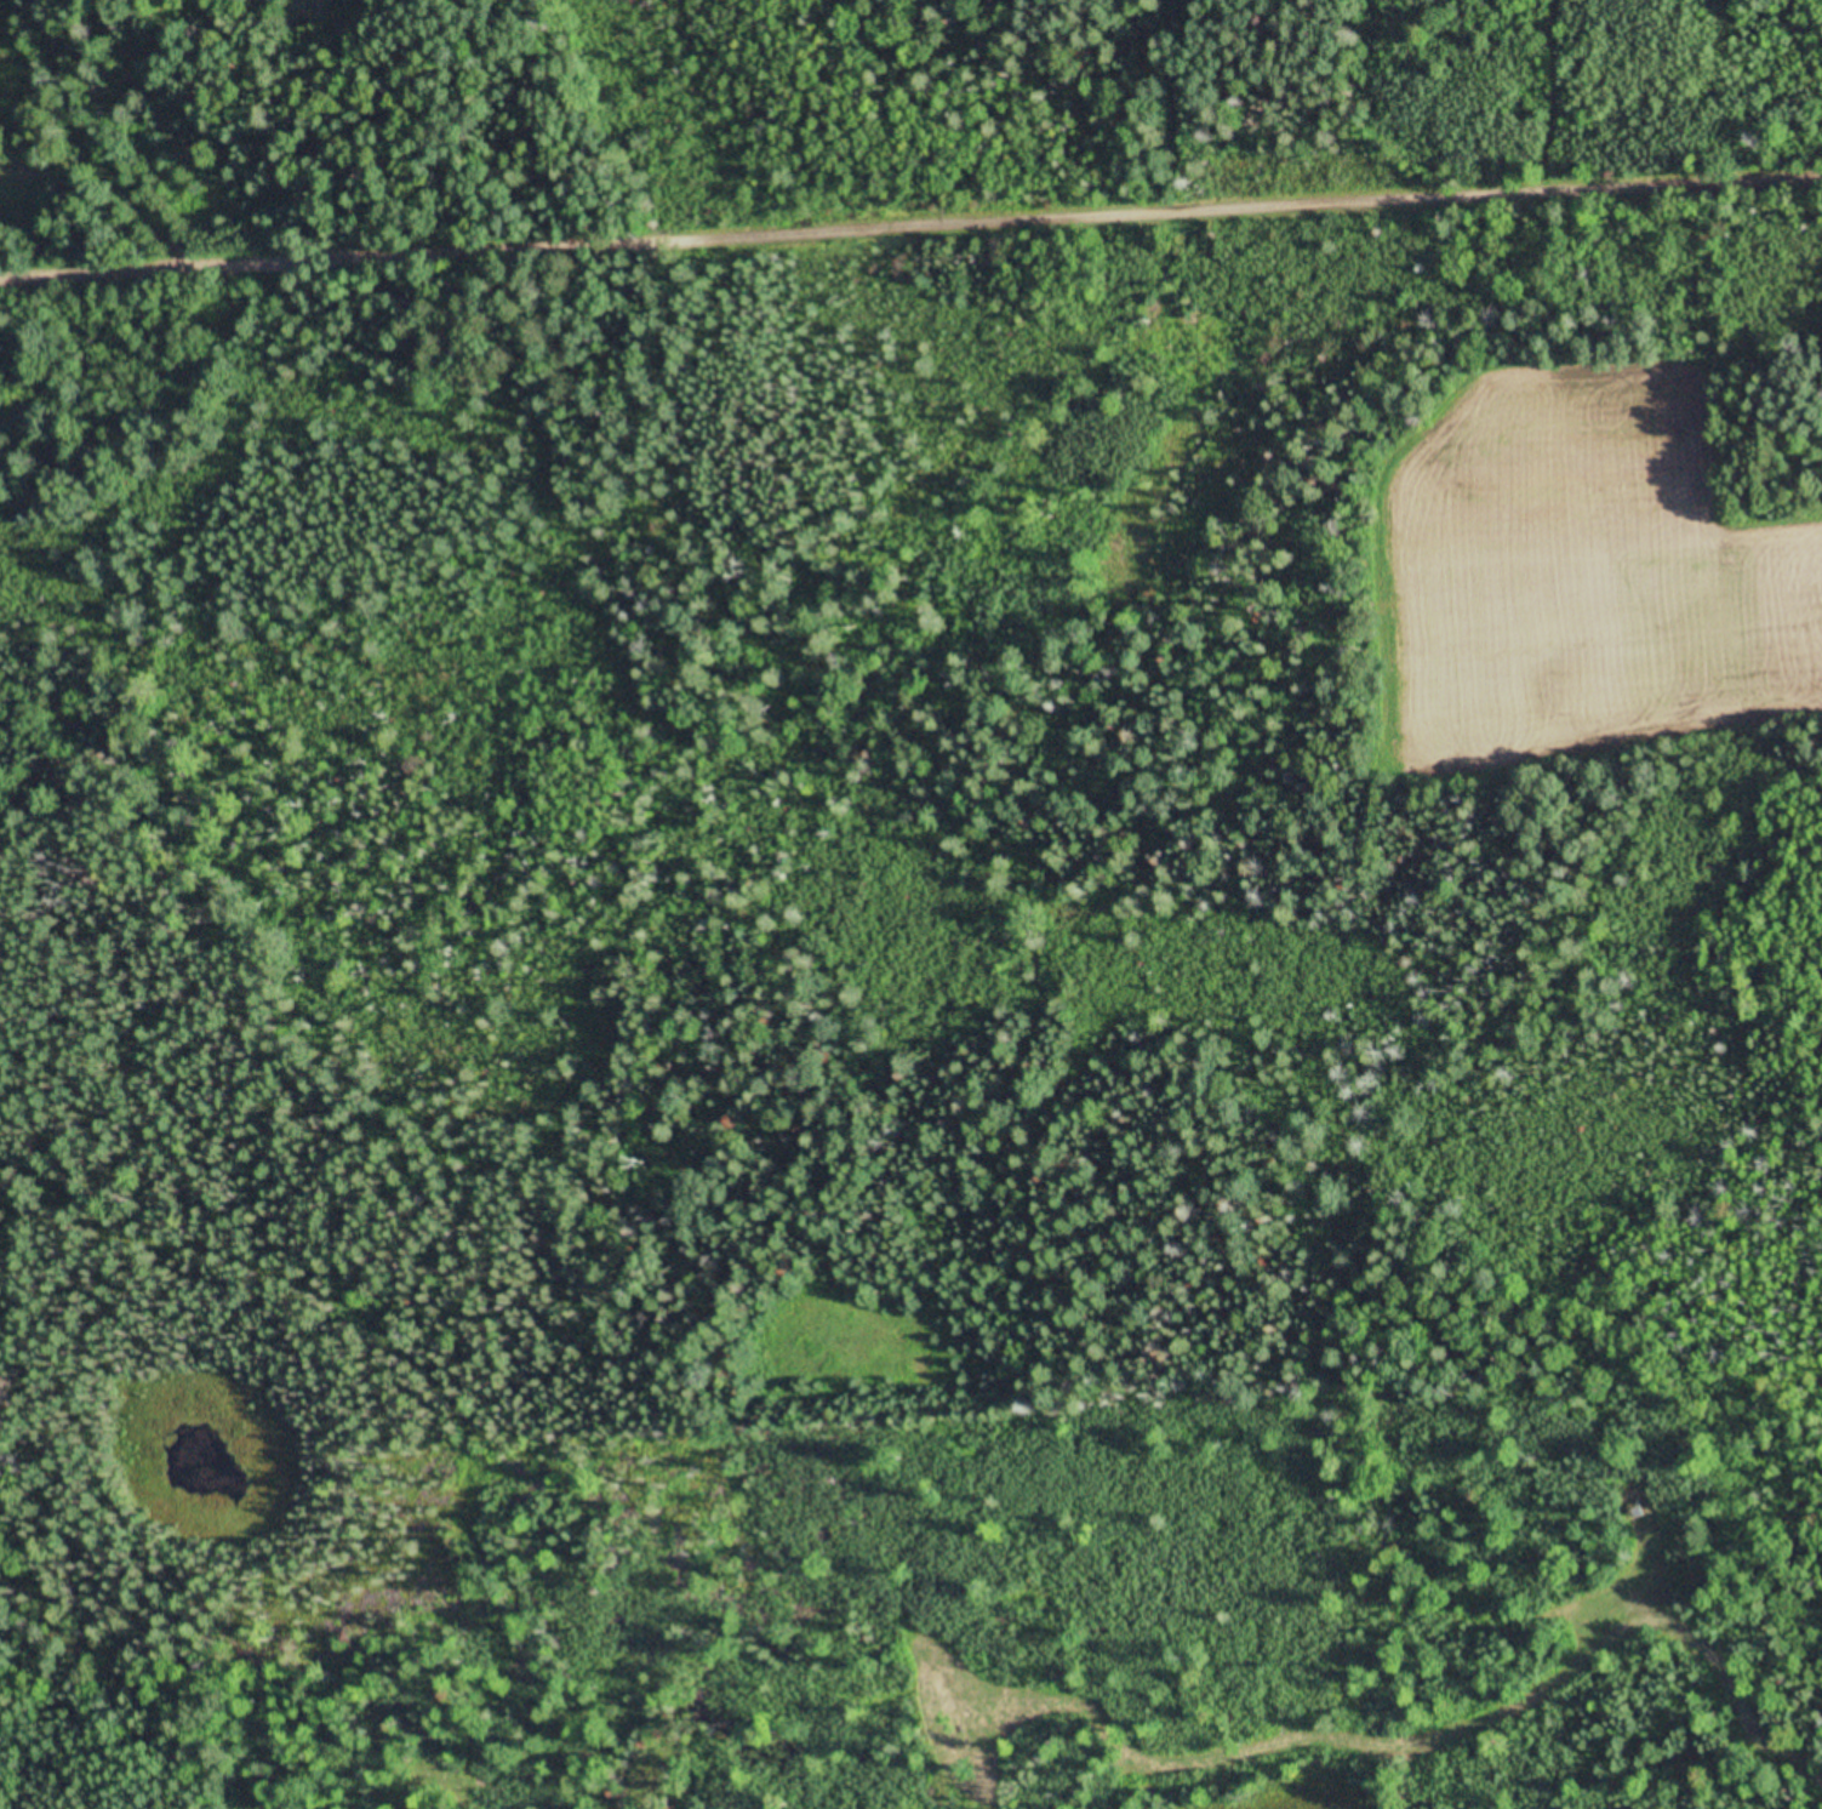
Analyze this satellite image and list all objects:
road: (910, 224)

